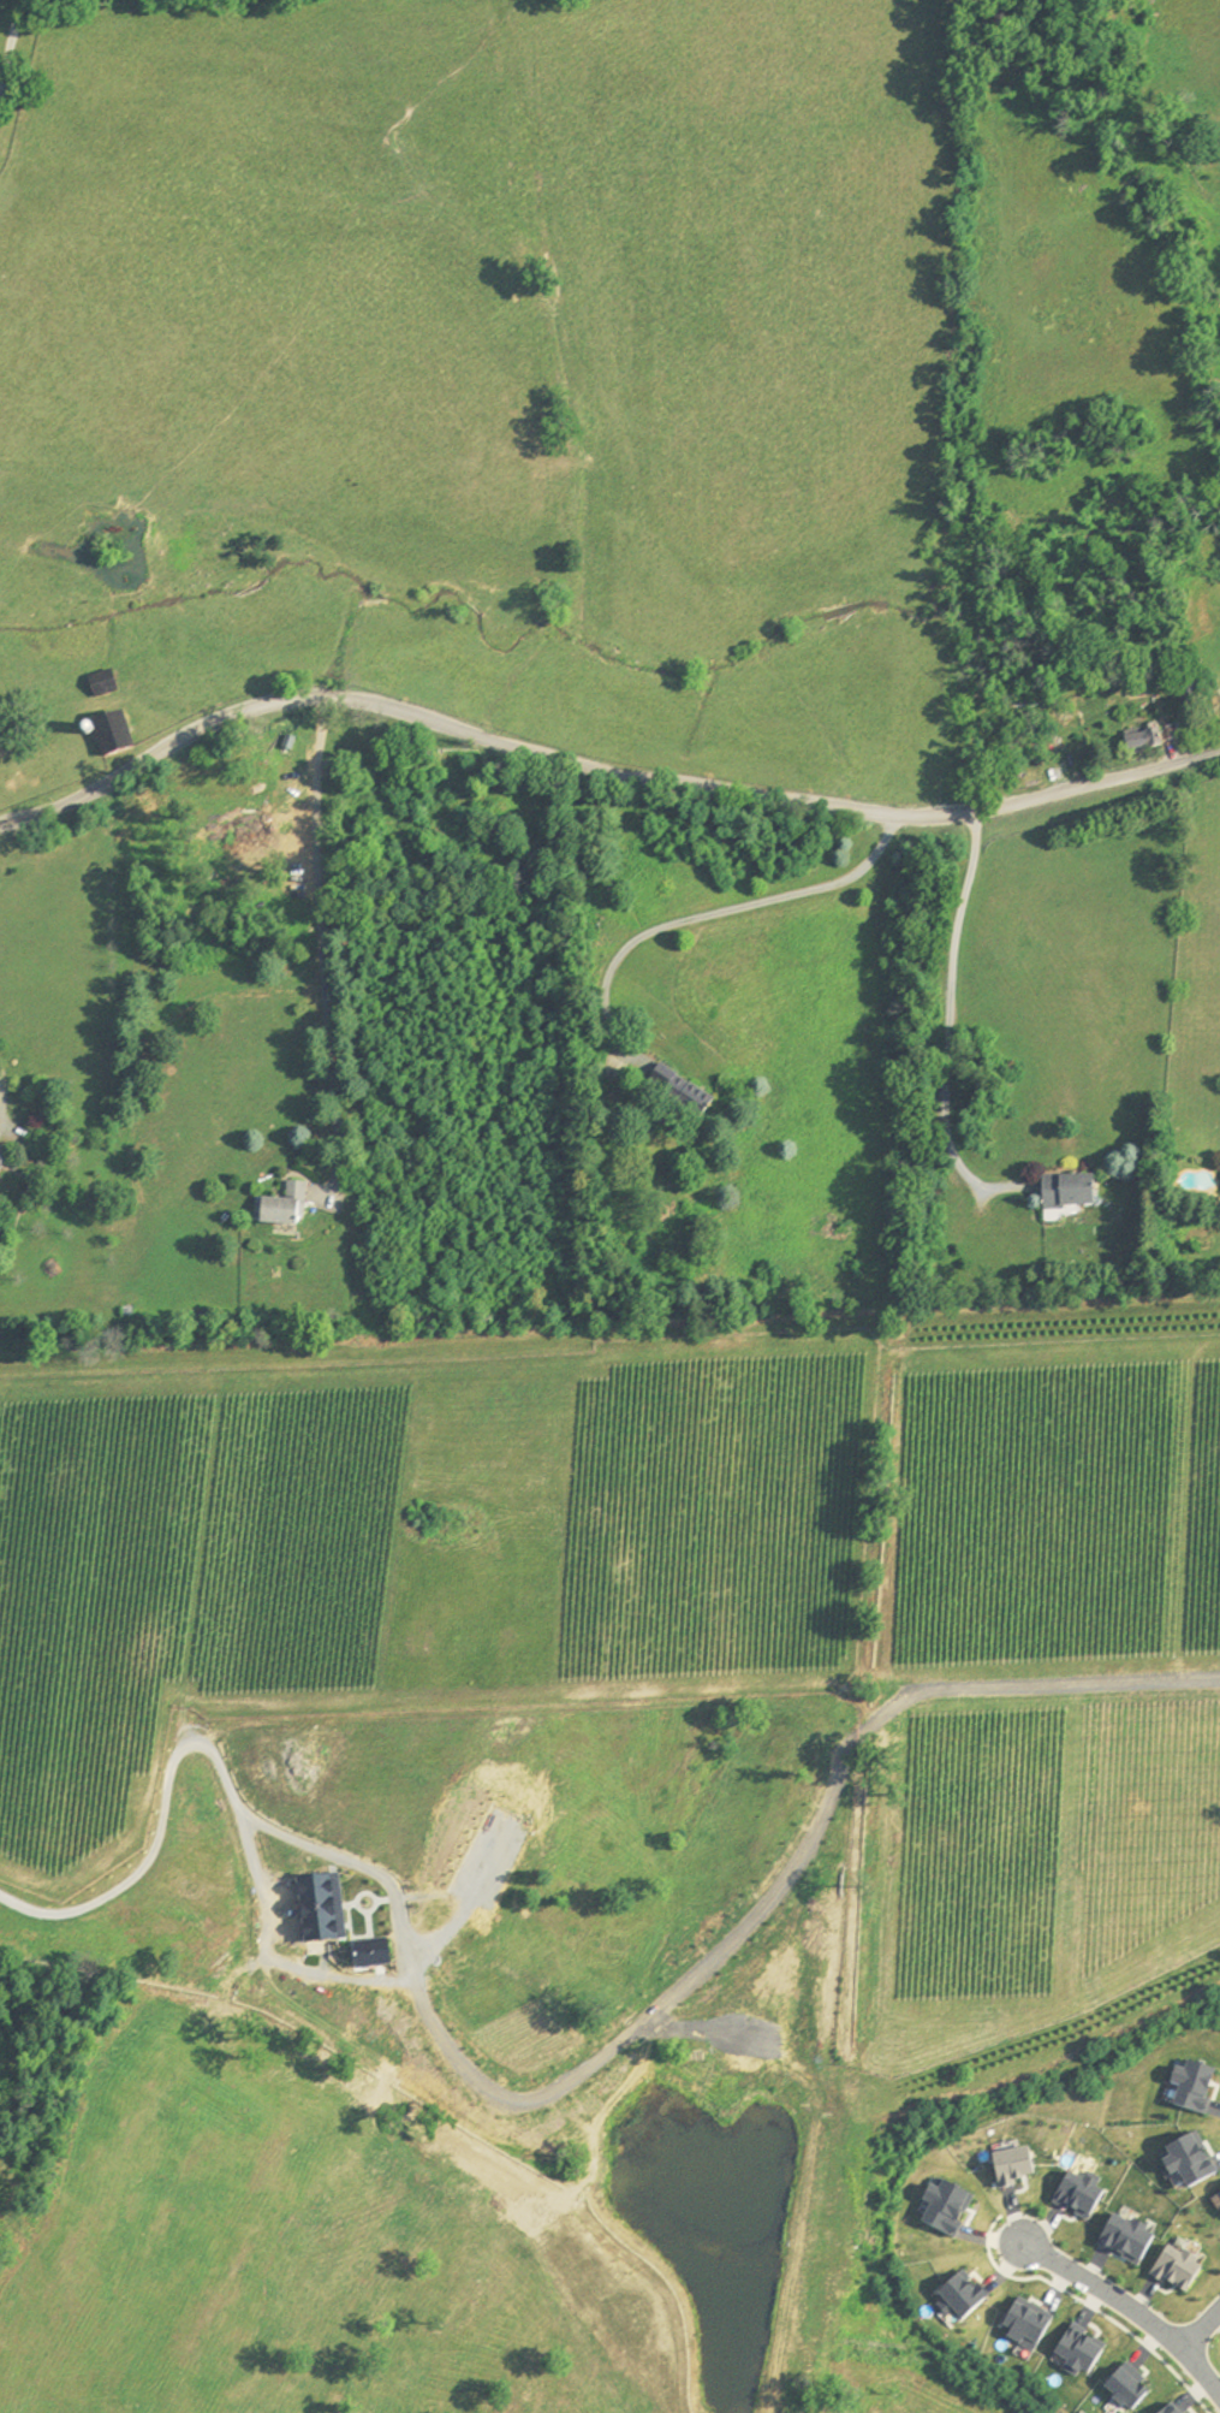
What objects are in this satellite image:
road: (22, 0)
road: (10, 47)
building: (106, 689)
building: (1190, 692)
building: (114, 734)
building: (1147, 742)
road: (596, 766)
road: (710, 912)
road: (321, 938)
road: (947, 1013)
road: (0, 1092)
building: (682, 1093)
building: (2, 1155)
building: (1071, 1193)
building: (285, 1209)
road: (155, 1837)
road: (784, 1880)
building: (328, 1907)
road: (394, 1974)
road: (1085, 2301)
road: (1131, 2306)
road: (1202, 2328)

